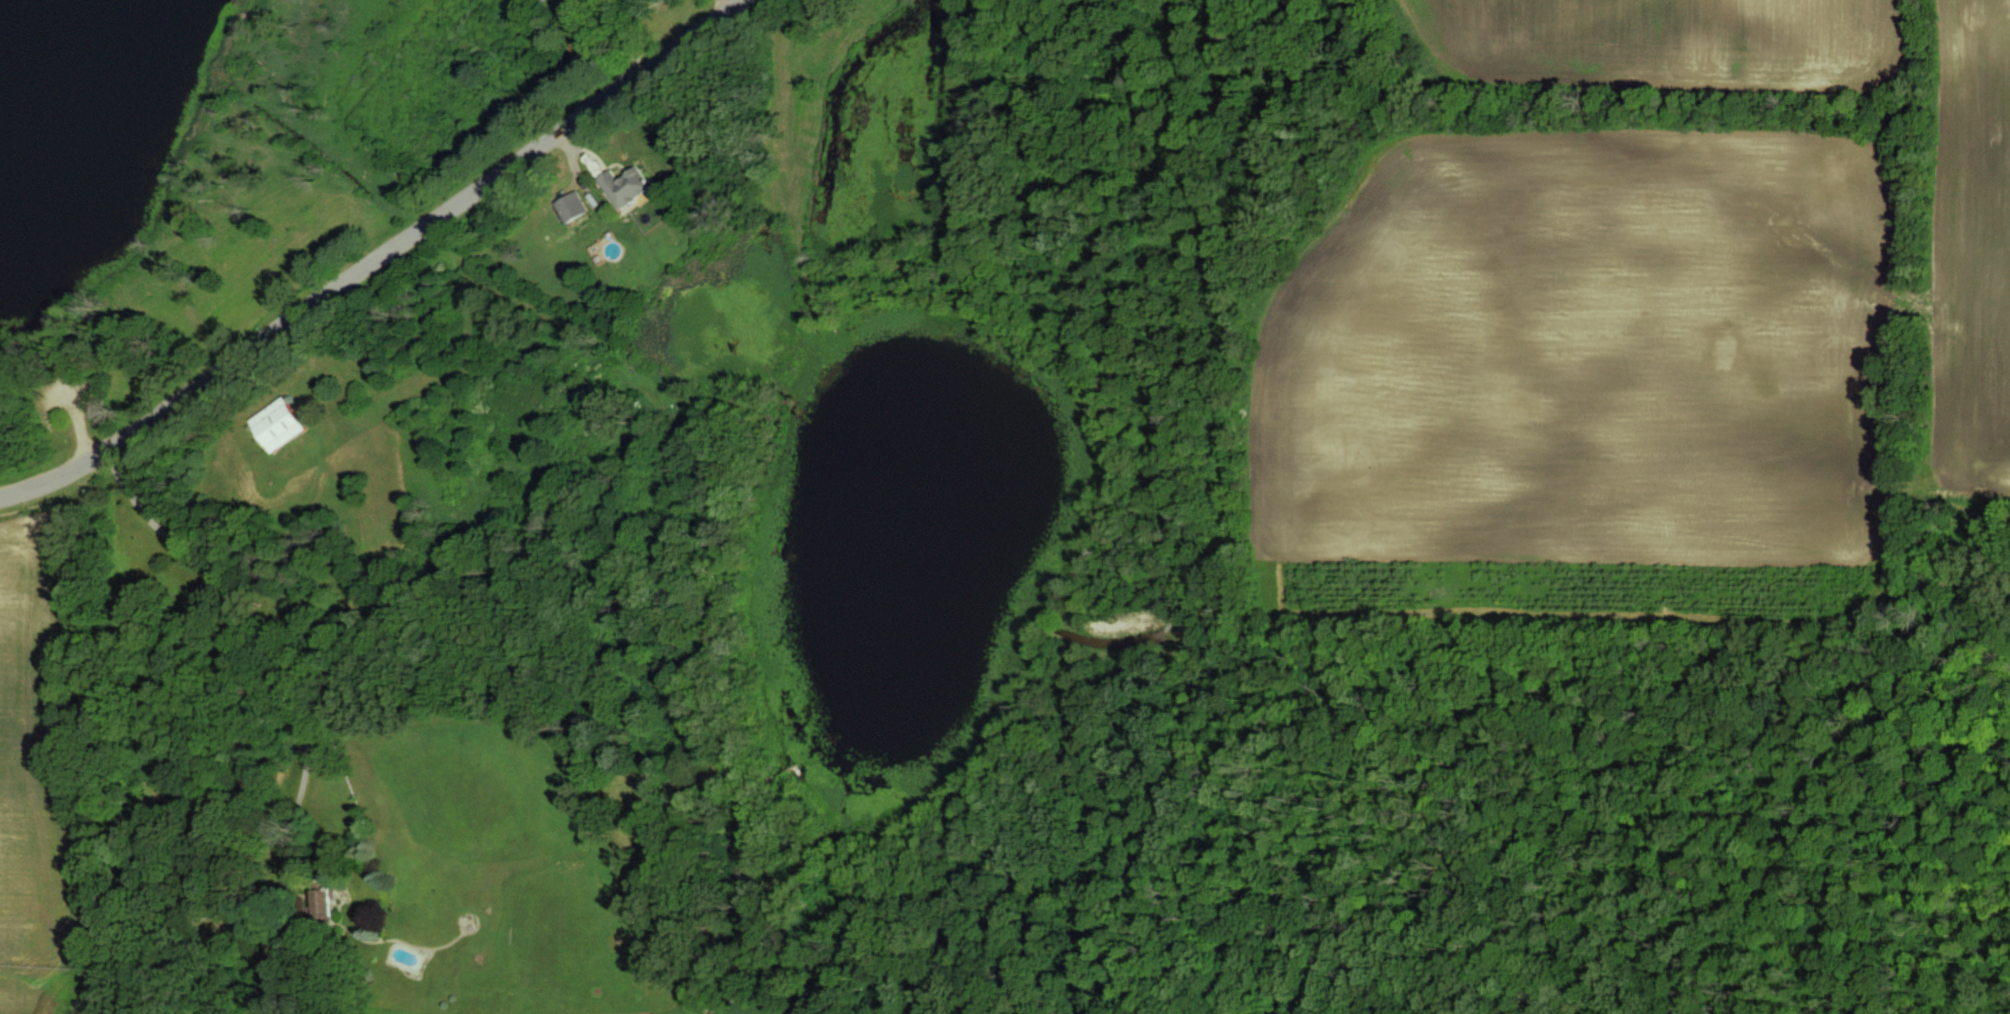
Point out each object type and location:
road: (590, 0)
road: (714, 4)
road: (608, 37)
building: (614, 185)
building: (561, 206)
road: (372, 261)
building: (274, 424)
road: (253, 635)
building: (319, 906)

